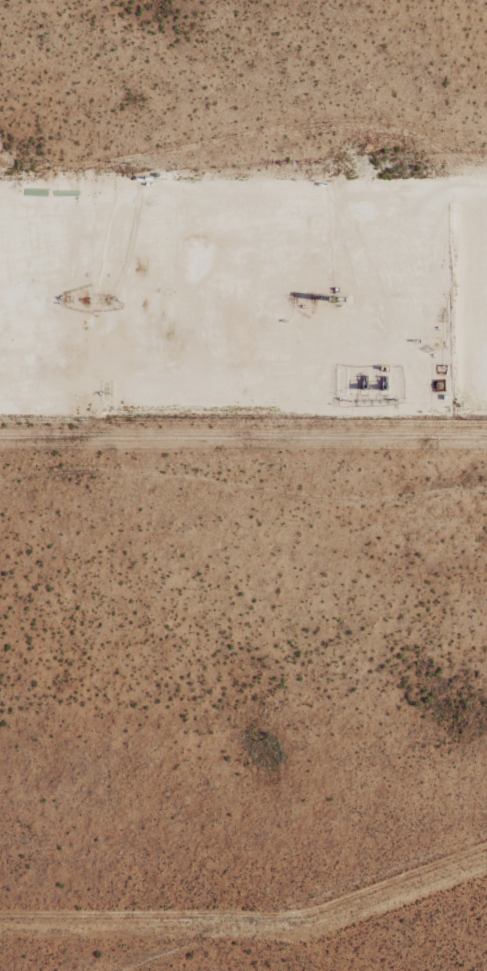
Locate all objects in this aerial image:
road: (60, 280)
petroleum well: (295, 298)
petroleum well: (314, 298)
petroleum well: (65, 299)
petroleum well: (85, 299)
petroleum well: (106, 300)
road: (285, 303)
road: (243, 412)

